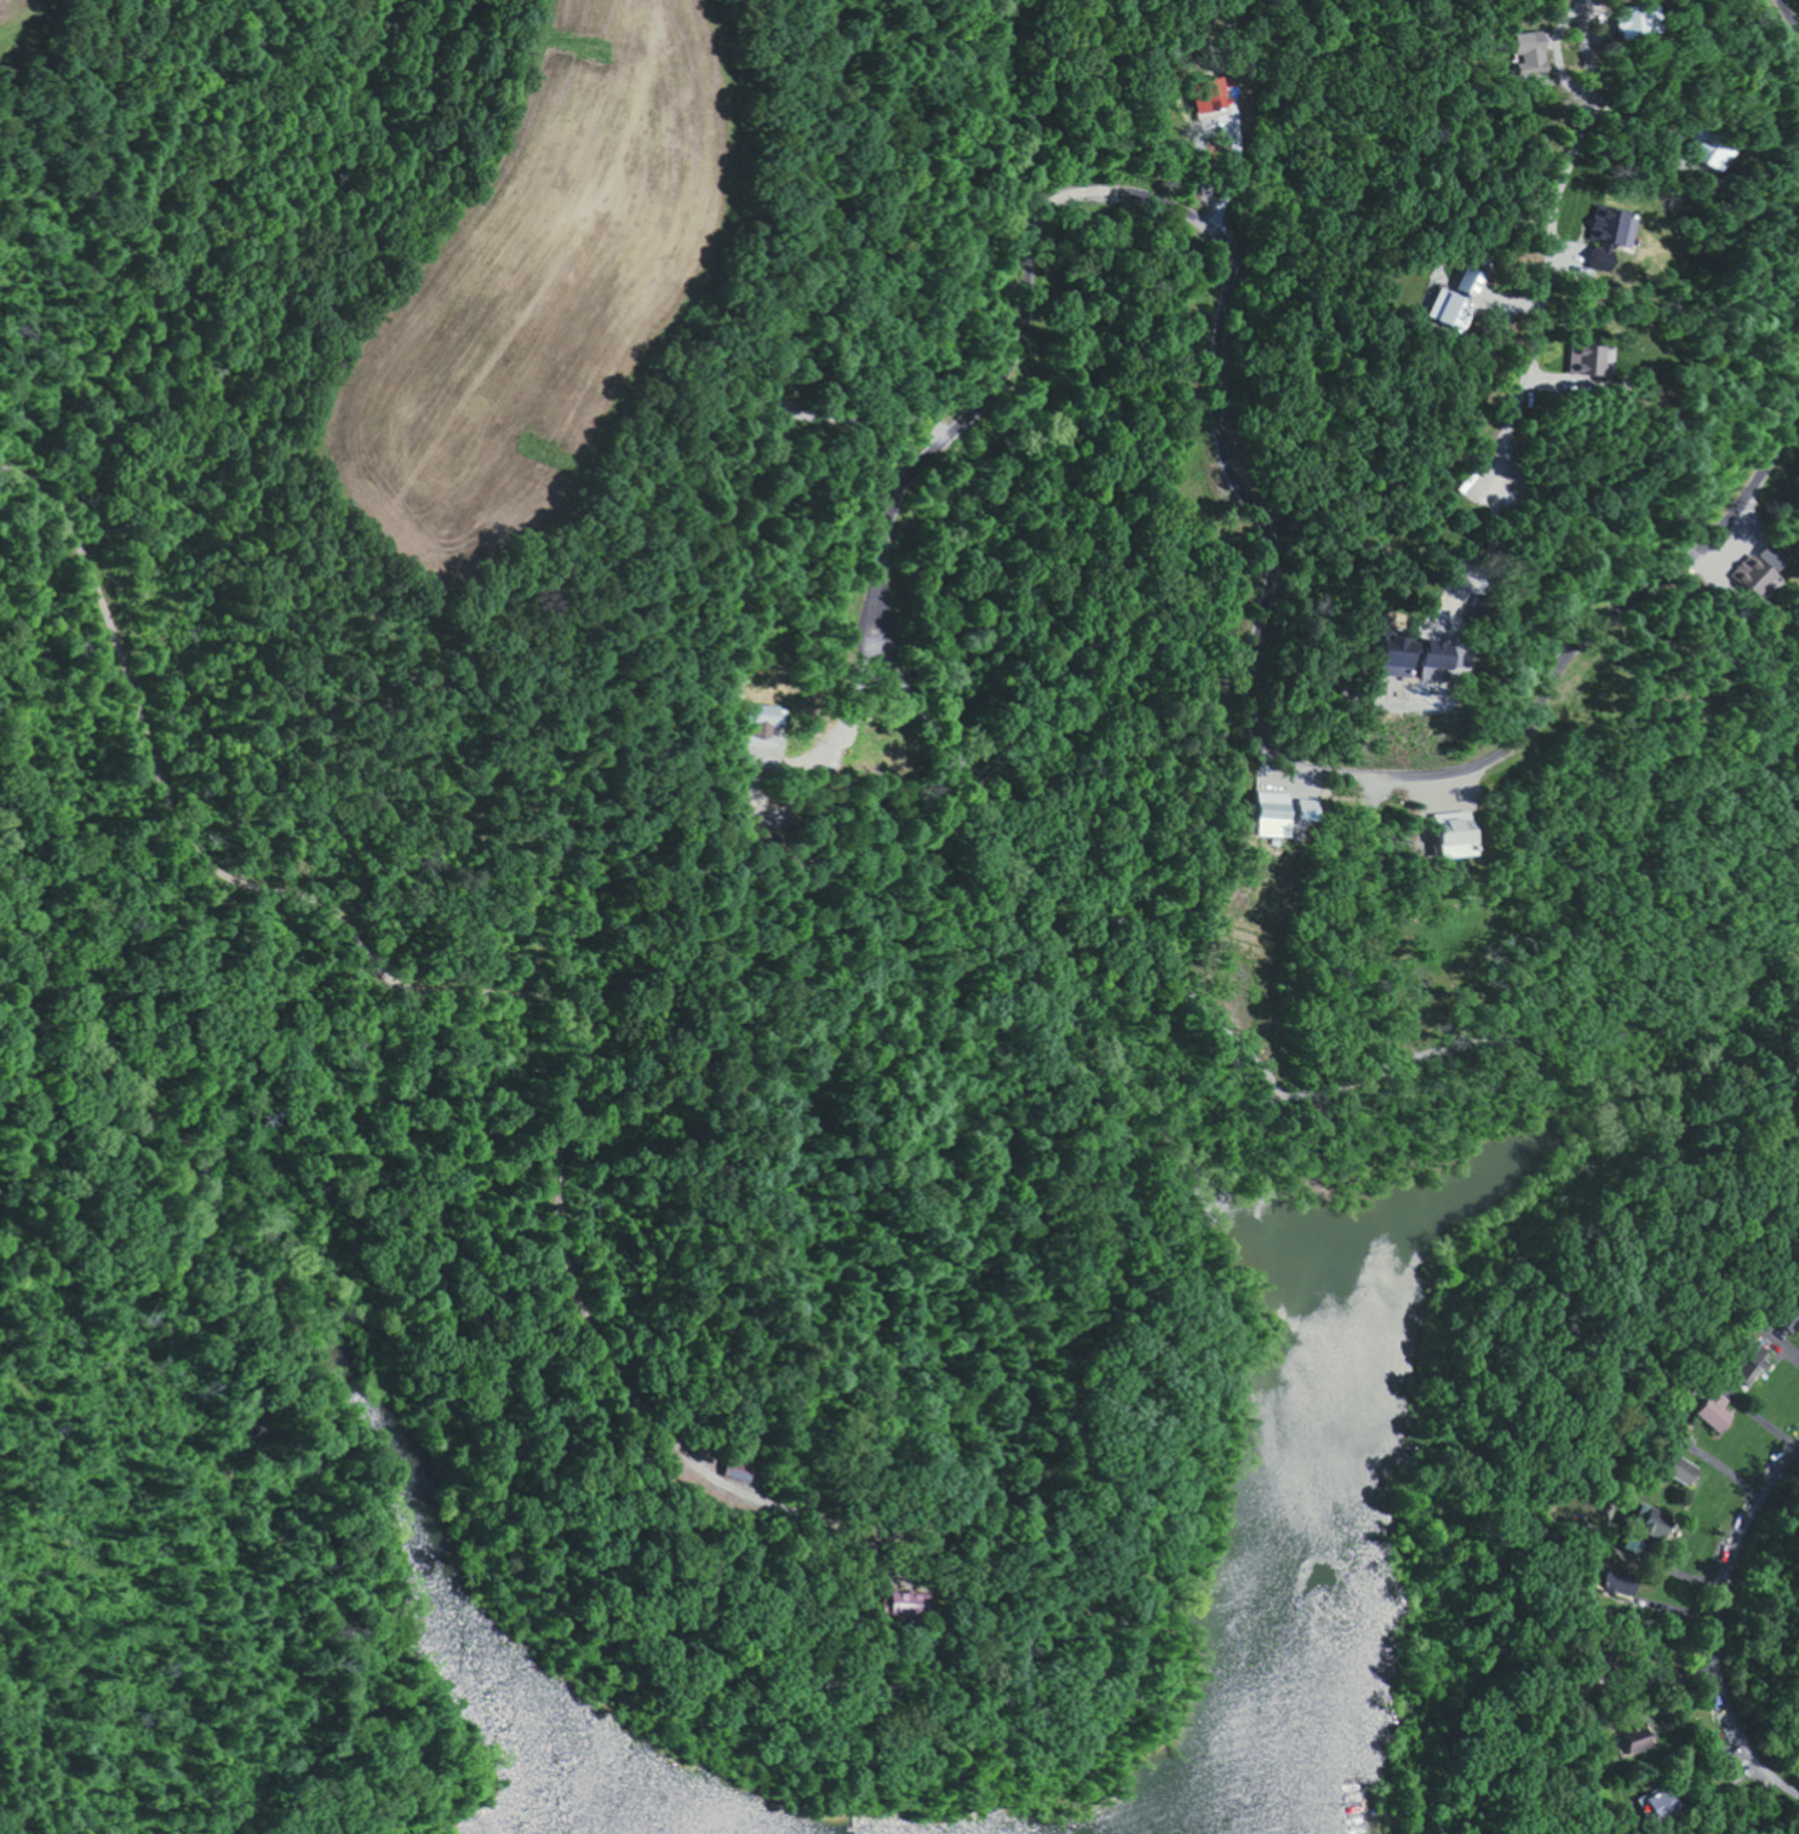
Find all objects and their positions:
building: (1635, 19)
building: (1534, 51)
building: (1214, 94)
building: (1711, 149)
building: (1614, 235)
building: (1460, 299)
building: (1589, 360)
building: (1766, 568)
building: (762, 715)
building: (752, 743)
building: (1281, 814)
building: (1461, 836)
building: (1752, 1365)
building: (1715, 1414)
building: (743, 1472)
building: (1686, 1472)
building: (1655, 1523)
building: (1622, 1581)
building: (911, 1605)
road: (1720, 1623)
building: (1642, 1740)
building: (1661, 1804)

